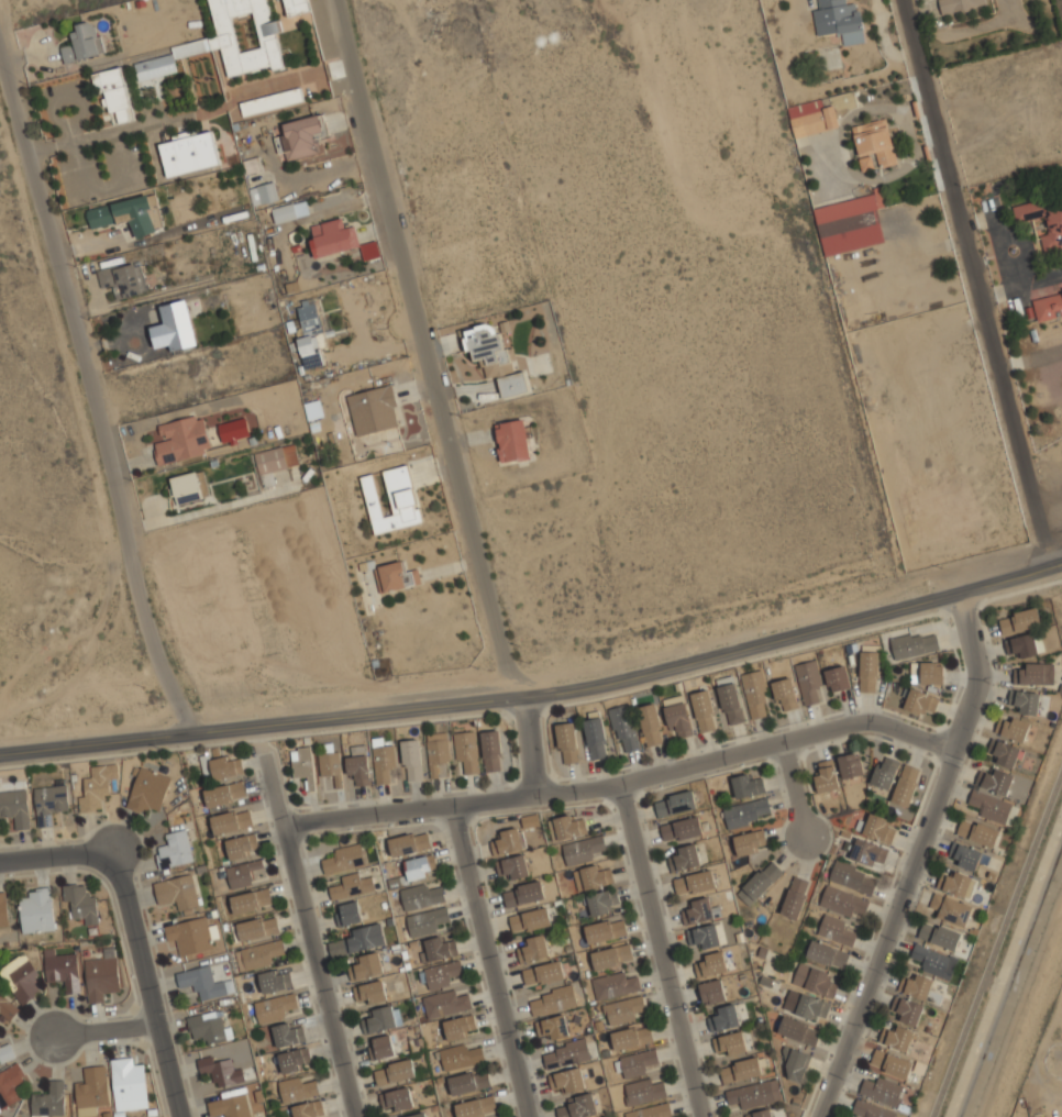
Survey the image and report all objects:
building: (298, 4)
building: (959, 4)
building: (840, 20)
building: (229, 40)
building: (82, 42)
building: (113, 92)
building: (270, 100)
building: (815, 120)
road: (120, 129)
building: (300, 135)
building: (874, 142)
building: (188, 151)
building: (267, 191)
building: (848, 206)
building: (284, 211)
building: (128, 213)
building: (1054, 225)
building: (333, 235)
building: (123, 278)
road: (981, 283)
building: (1048, 305)
building: (173, 327)
building: (309, 332)
road: (430, 350)
building: (494, 356)
road: (1031, 357)
road: (92, 397)
building: (374, 408)
building: (313, 409)
building: (233, 429)
building: (181, 439)
building: (512, 439)
building: (275, 461)
building: (188, 488)
road: (1048, 497)
building: (392, 499)
building: (394, 574)
building: (1019, 619)
building: (915, 644)
building: (1025, 644)
building: (869, 668)
building: (928, 672)
building: (1036, 674)
building: (838, 678)
building: (809, 683)
building: (785, 694)
building: (755, 695)
road: (538, 696)
building: (919, 700)
building: (1025, 701)
building: (730, 704)
building: (704, 710)
building: (678, 720)
building: (650, 725)
building: (623, 728)
building: (1015, 728)
building: (595, 736)
building: (566, 742)
road: (529, 746)
building: (491, 751)
building: (436, 753)
building: (467, 753)
building: (1005, 753)
building: (411, 760)
building: (384, 763)
building: (851, 764)
building: (225, 765)
building: (303, 765)
building: (330, 765)
building: (358, 768)
building: (885, 771)
building: (826, 776)
road: (623, 781)
building: (995, 781)
building: (906, 783)
building: (746, 785)
building: (95, 787)
building: (147, 788)
road: (794, 788)
building: (224, 793)
building: (48, 801)
building: (675, 801)
building: (14, 806)
building: (991, 807)
building: (746, 811)
building: (231, 820)
building: (530, 820)
road: (944, 822)
building: (566, 826)
building: (878, 827)
building: (682, 828)
building: (977, 832)
building: (510, 839)
building: (750, 841)
building: (409, 843)
building: (242, 847)
building: (585, 848)
building: (174, 849)
building: (869, 851)
road: (58, 855)
building: (964, 855)
building: (688, 856)
road: (915, 856)
building: (344, 858)
building: (420, 866)
building: (512, 866)
building: (245, 874)
building: (593, 876)
building: (853, 876)
building: (760, 881)
building: (695, 882)
building: (960, 884)
building: (352, 885)
building: (177, 891)
building: (523, 892)
building: (421, 895)
building: (795, 896)
building: (251, 899)
building: (602, 900)
building: (843, 900)
building: (80, 905)
building: (700, 909)
building: (950, 909)
building: (2, 911)
building: (36, 911)
building: (347, 913)
building: (531, 919)
building: (427, 920)
building: (257, 927)
building: (606, 929)
building: (836, 930)
building: (189, 934)
road: (310, 934)
building: (706, 934)
building: (938, 936)
building: (356, 940)
road: (996, 943)
building: (440, 947)
building: (539, 947)
road: (661, 949)
building: (257, 954)
building: (611, 955)
building: (827, 955)
road: (490, 961)
building: (933, 961)
building: (711, 962)
building: (365, 965)
building: (63, 971)
building: (544, 972)
building: (441, 974)
building: (100, 978)
building: (274, 978)
building: (20, 980)
building: (816, 980)
building: (203, 982)
road: (146, 983)
building: (615, 984)
building: (919, 986)
building: (712, 989)
building: (372, 991)
building: (553, 999)
building: (445, 1003)
building: (7, 1007)
building: (276, 1007)
building: (812, 1007)
building: (624, 1009)
building: (908, 1010)
building: (724, 1017)
building: (379, 1019)
building: (208, 1026)
road: (100, 1027)
building: (460, 1027)
building: (552, 1027)
building: (798, 1030)
building: (287, 1033)
building: (632, 1036)
building: (899, 1038)
building: (731, 1043)
building: (381, 1046)
building: (5, 1052)
building: (566, 1052)
building: (462, 1057)
building: (295, 1059)
building: (635, 1062)
building: (796, 1064)
building: (890, 1064)
building: (741, 1068)
building: (220, 1070)
building: (395, 1072)
building: (567, 1080)
building: (468, 1082)
building: (128, 1085)
building: (9, 1087)
building: (298, 1087)
building: (90, 1091)
building: (644, 1091)
building: (882, 1091)
building: (755, 1092)
building: (396, 1098)
building: (48, 1102)
building: (230, 1104)
building: (476, 1106)
building: (578, 1106)
building: (307, 1109)
building: (871, 1109)
building: (650, 1110)
building: (759, 1114)
building: (417, 1115)

